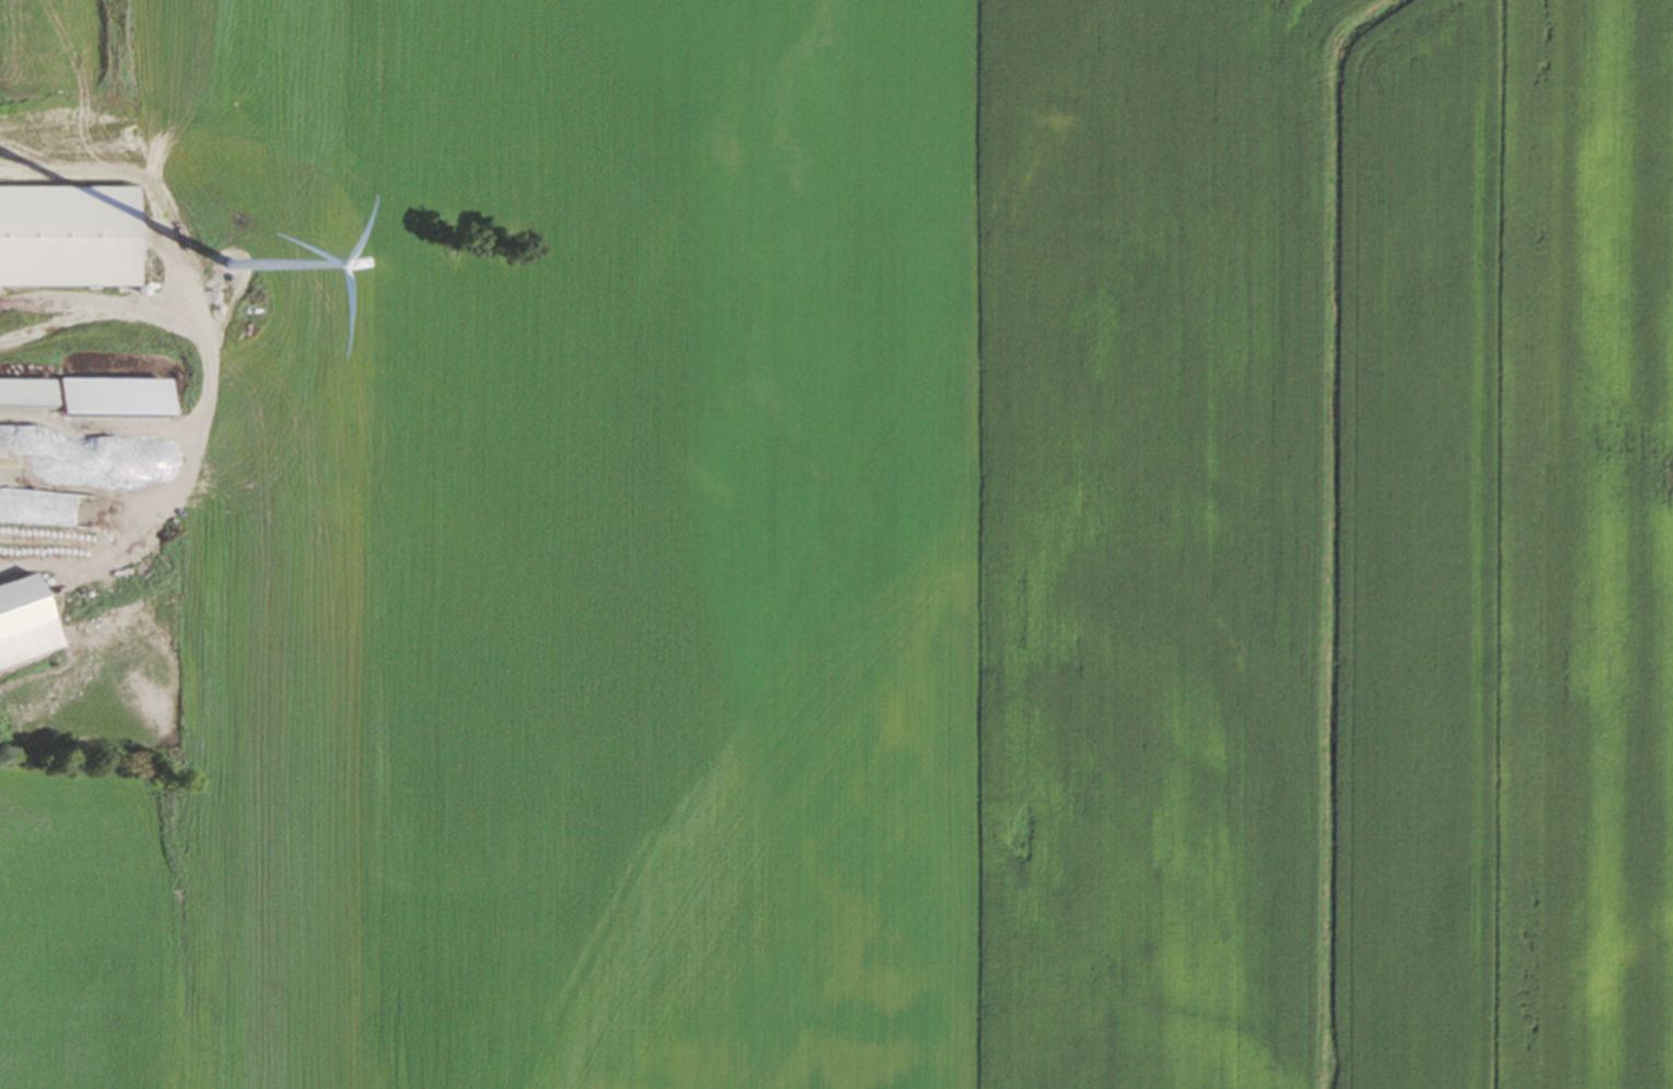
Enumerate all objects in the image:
wind turbine: (239, 266)
building: (22, 394)
building: (21, 621)

